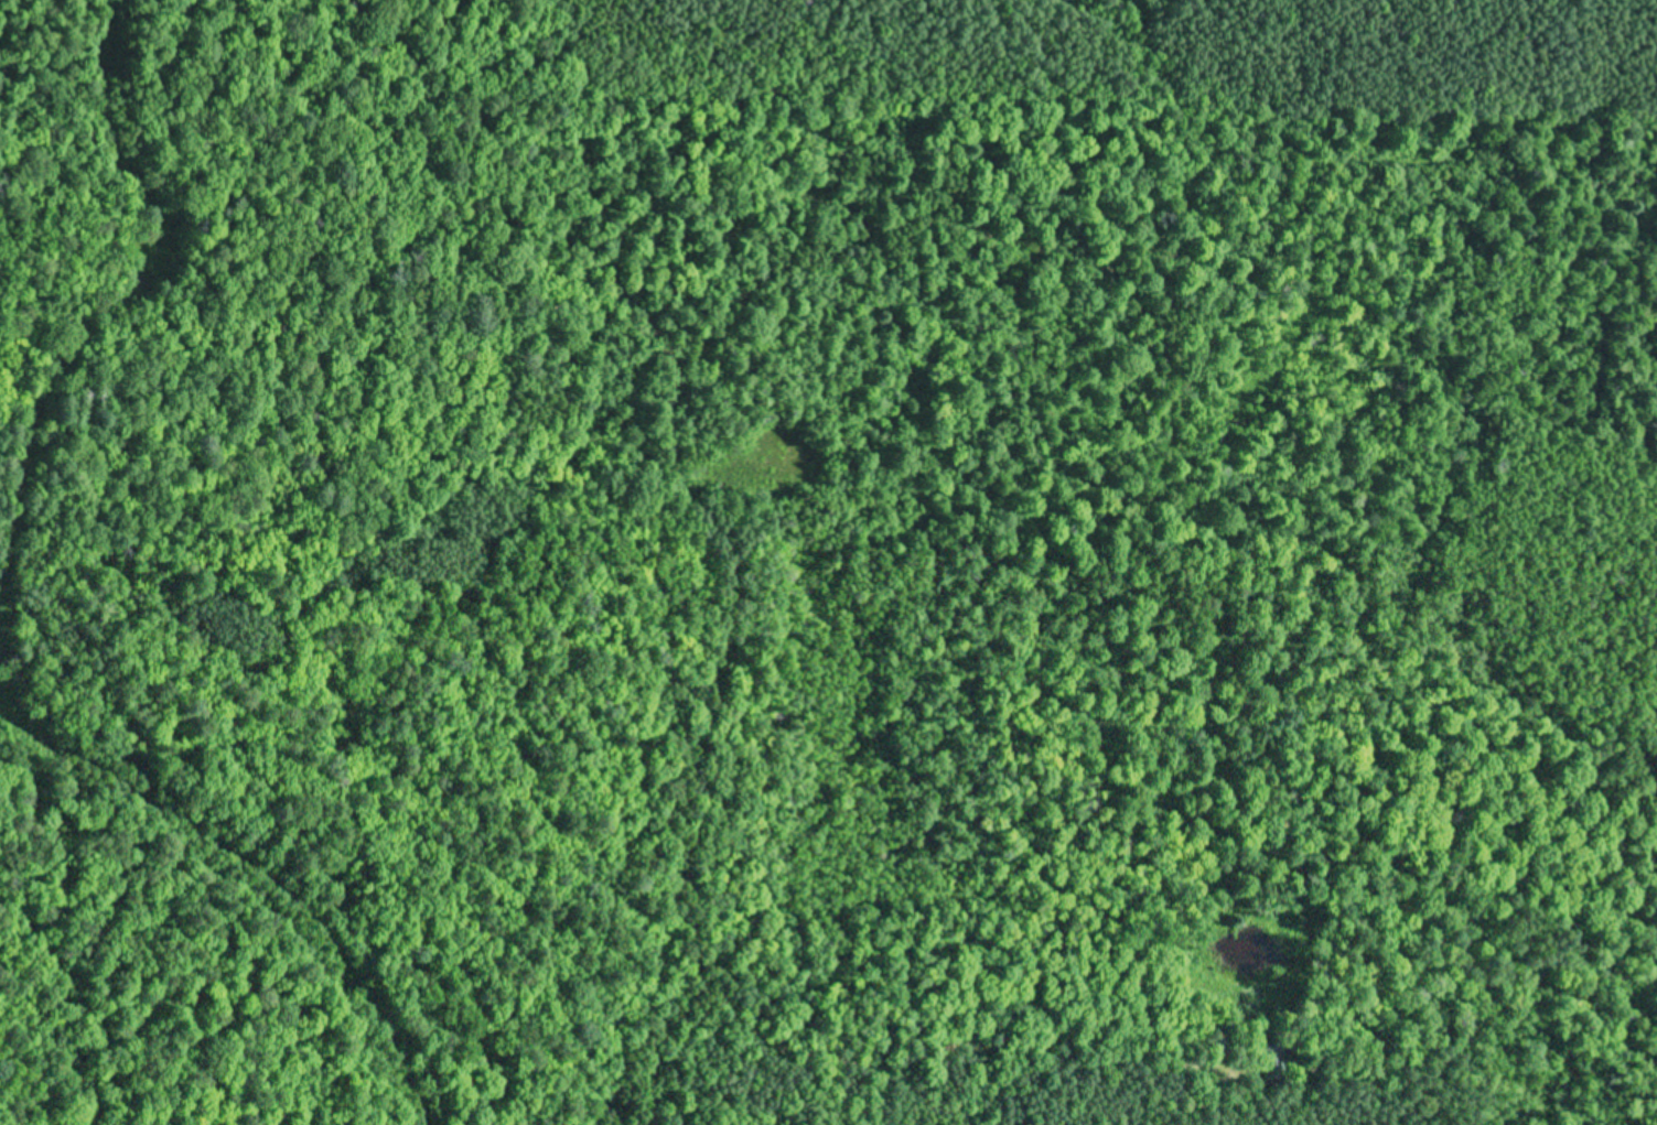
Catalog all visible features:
building: (1222, 1047)
building: (1271, 1058)

